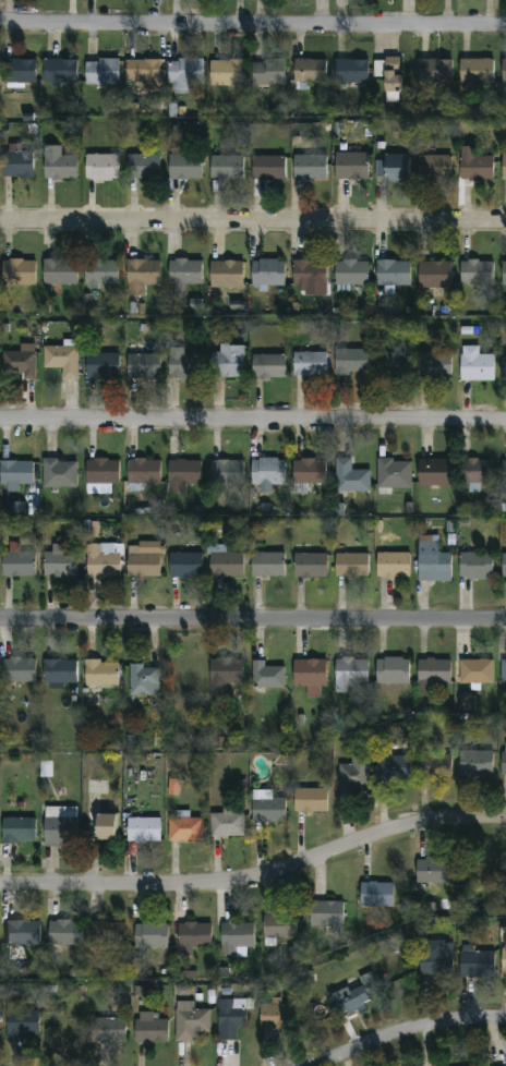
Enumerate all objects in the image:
road: (253, 24)
building: (17, 71)
building: (309, 71)
building: (59, 72)
building: (101, 72)
building: (434, 72)
building: (478, 72)
building: (505, 72)
building: (142, 73)
building: (268, 73)
building: (350, 73)
building: (185, 74)
building: (225, 74)
building: (391, 81)
building: (16, 165)
building: (58, 165)
building: (183, 166)
building: (101, 167)
building: (350, 167)
building: (504, 167)
building: (144, 168)
building: (227, 168)
building: (267, 168)
building: (310, 168)
building: (433, 168)
building: (394, 169)
building: (477, 169)
road: (253, 220)
building: (19, 271)
building: (59, 271)
building: (101, 272)
building: (267, 272)
building: (504, 272)
building: (350, 274)
building: (391, 274)
building: (475, 274)
building: (226, 275)
building: (309, 275)
building: (434, 275)
building: (142, 276)
building: (183, 277)
building: (227, 361)
building: (62, 362)
building: (350, 362)
building: (20, 363)
building: (393, 364)
building: (185, 365)
building: (310, 365)
building: (475, 365)
building: (101, 366)
building: (434, 366)
building: (144, 367)
building: (268, 367)
building: (504, 367)
road: (253, 423)
building: (103, 472)
building: (267, 472)
building: (480, 472)
building: (504, 472)
building: (143, 473)
building: (227, 473)
building: (434, 473)
building: (16, 474)
building: (59, 474)
building: (306, 474)
building: (394, 474)
building: (182, 475)
building: (350, 477)
building: (432, 561)
building: (103, 562)
building: (61, 564)
building: (17, 565)
building: (142, 565)
building: (268, 565)
building: (227, 566)
building: (312, 566)
building: (352, 566)
building: (393, 566)
building: (475, 566)
building: (504, 566)
building: (185, 567)
road: (253, 619)
building: (17, 671)
building: (393, 671)
building: (504, 671)
building: (434, 673)
building: (475, 673)
building: (100, 674)
building: (310, 674)
building: (60, 675)
building: (351, 676)
building: (266, 677)
building: (224, 678)
building: (143, 680)
building: (467, 703)
building: (475, 764)
building: (503, 764)
building: (435, 767)
building: (393, 768)
building: (353, 779)
building: (173, 787)
building: (310, 801)
building: (269, 812)
building: (227, 824)
building: (104, 827)
building: (60, 828)
building: (184, 829)
building: (144, 831)
building: (17, 832)
building: (468, 870)
building: (433, 871)
road: (256, 879)
building: (376, 895)
building: (326, 913)
building: (279, 925)
building: (64, 933)
building: (23, 934)
building: (107, 934)
building: (194, 935)
building: (150, 936)
building: (237, 936)
building: (435, 958)
building: (475, 962)
building: (504, 964)
building: (353, 996)
building: (277, 1017)
building: (229, 1018)
building: (190, 1021)
building: (22, 1023)
building: (149, 1029)
building: (106, 1031)
road: (412, 1033)

